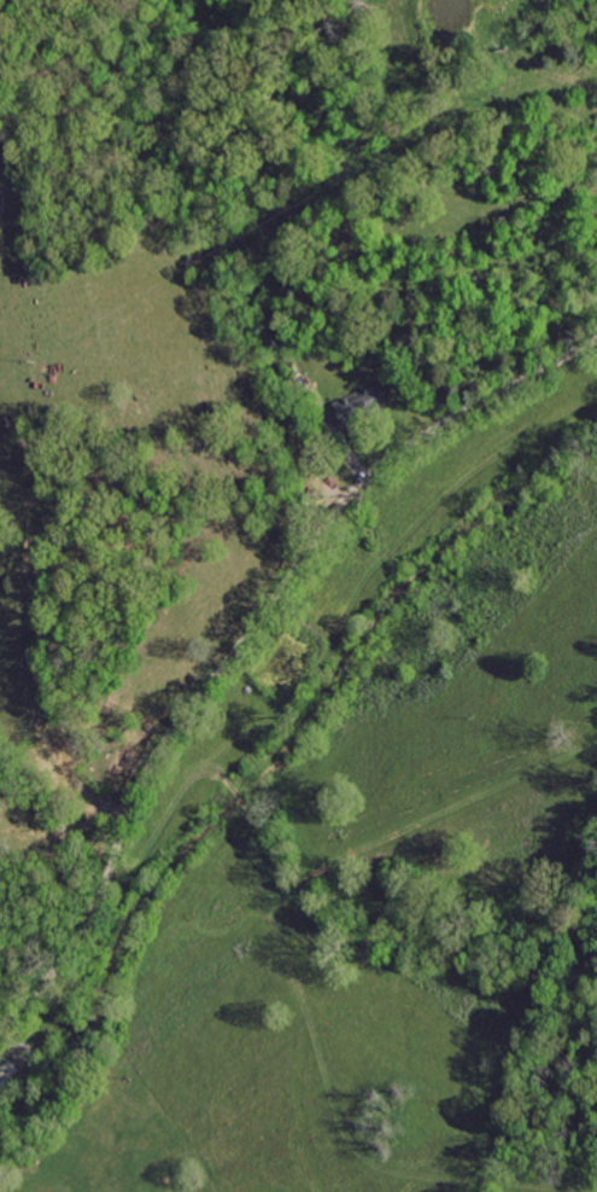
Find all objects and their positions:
road: (245, 633)

